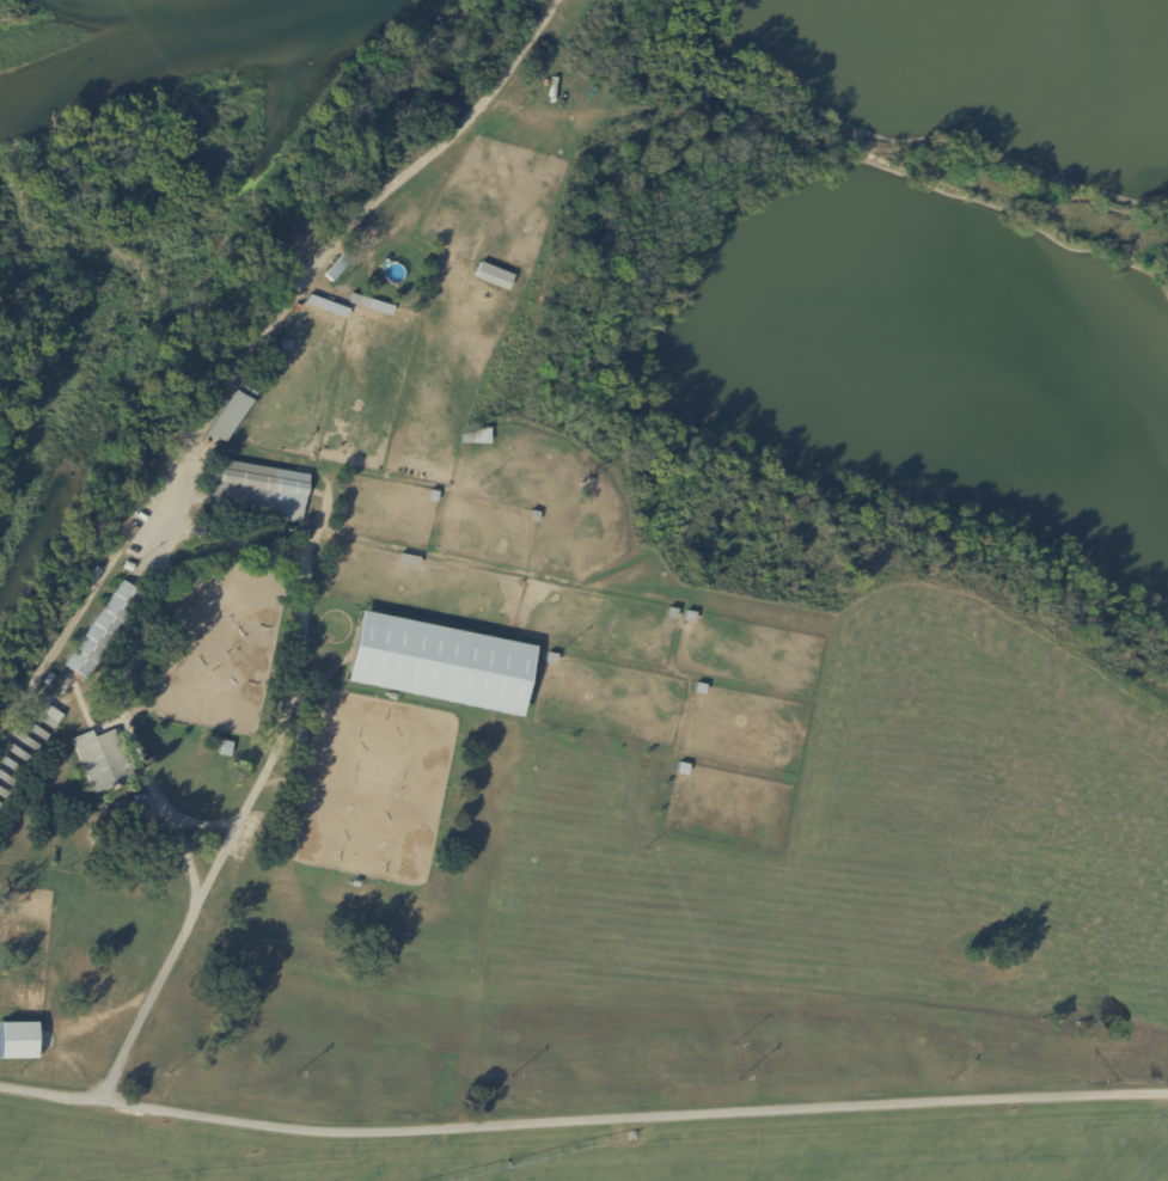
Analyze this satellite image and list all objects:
river: (173, 61)
building: (338, 267)
building: (491, 277)
building: (354, 300)
building: (325, 306)
building: (305, 313)
road: (259, 345)
building: (286, 345)
building: (256, 385)
building: (227, 417)
building: (467, 440)
building: (257, 492)
building: (432, 497)
building: (532, 518)
building: (406, 562)
building: (129, 568)
building: (671, 614)
building: (689, 618)
building: (104, 631)
building: (428, 657)
building: (550, 660)
road: (128, 668)
building: (47, 680)
building: (44, 717)
building: (305, 724)
building: (32, 730)
building: (300, 736)
building: (24, 741)
building: (222, 751)
building: (17, 753)
building: (99, 763)
building: (11, 766)
road: (265, 766)
building: (6, 782)
building: (2, 794)
building: (285, 808)
road: (206, 826)
building: (124, 851)
road: (185, 868)
building: (86, 869)
building: (351, 886)
crop: (856, 891)
crop: (367, 973)
building: (17, 1040)
road: (582, 1120)
building: (634, 1137)
crop: (607, 1149)

